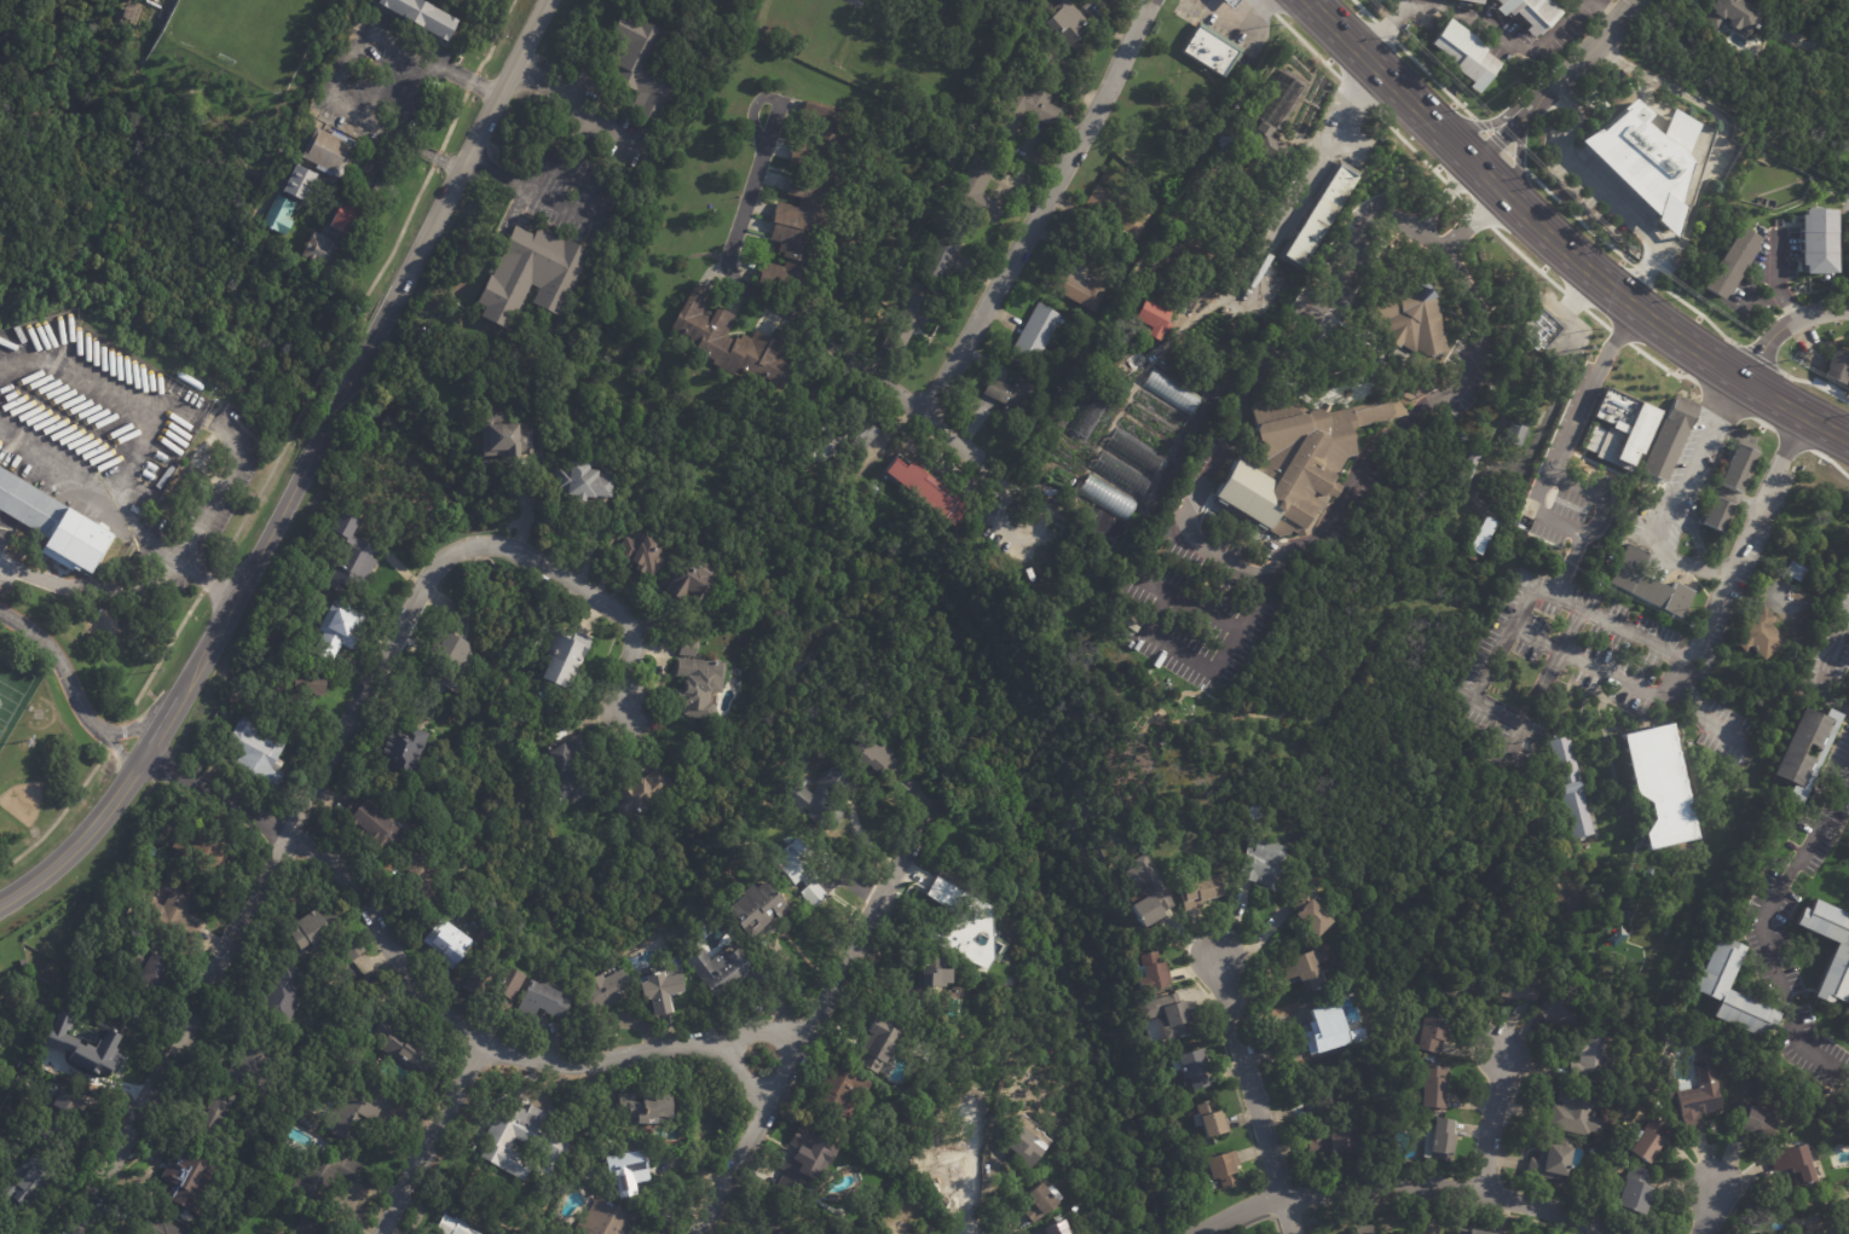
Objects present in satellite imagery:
building: (1467, 1)
building: (683, 2)
building: (1230, 2)
gas station: (1237, 2)
building: (1096, 8)
road: (1605, 11)
building: (1527, 12)
building: (423, 17)
road: (1232, 17)
building: (1728, 17)
road: (1483, 24)
building: (1074, 25)
road: (1377, 28)
park: (248, 34)
building: (1209, 52)
building: (1462, 56)
road: (347, 65)
building: (643, 65)
road: (380, 82)
road: (1558, 83)
building: (1272, 98)
road: (416, 102)
road: (571, 102)
road: (1374, 102)
building: (1028, 110)
building: (1215, 138)
building: (1265, 147)
building: (330, 155)
building: (1643, 163)
road: (460, 164)
road: (1319, 167)
road: (1470, 179)
building: (300, 184)
road: (524, 189)
building: (981, 192)
building: (808, 197)
road: (1439, 205)
road: (1045, 210)
building: (1121, 212)
building: (1313, 214)
building: (281, 216)
building: (345, 220)
road: (1397, 226)
road: (1457, 227)
road: (1360, 234)
road: (1685, 236)
building: (1816, 241)
road: (1558, 244)
building: (320, 250)
road: (729, 255)
building: (941, 259)
building: (1730, 263)
road: (1641, 272)
building: (533, 276)
road: (1779, 279)
building: (1082, 291)
building: (1405, 315)
building: (909, 317)
building: (1158, 318)
road: (1784, 328)
building: (1547, 330)
building: (1038, 336)
building: (735, 346)
road: (865, 364)
building: (1834, 371)
road: (341, 392)
building: (1173, 392)
building: (1009, 401)
road: (179, 407)
building: (1092, 412)
road: (64, 415)
road: (1237, 425)
building: (1623, 428)
road: (943, 429)
building: (1520, 433)
building: (505, 434)
building: (847, 436)
building: (1672, 438)
building: (1134, 454)
building: (1295, 459)
building: (1477, 459)
road: (1555, 459)
gas station: (156, 465)
building: (1739, 469)
building: (1121, 475)
building: (582, 480)
road: (1351, 486)
building: (928, 491)
road: (88, 492)
road: (1682, 493)
road: (1597, 494)
building: (1109, 498)
building: (29, 504)
building: (1722, 516)
building: (963, 534)
building: (1485, 535)
building: (75, 541)
building: (352, 554)
building: (643, 555)
parking lot: (22, 566)
road: (31, 572)
building: (1793, 572)
road: (206, 575)
building: (692, 583)
building: (1649, 584)
road: (1718, 589)
road: (595, 596)
road: (1192, 603)
road: (1518, 616)
building: (341, 626)
building: (1133, 626)
building: (1131, 635)
building: (1760, 636)
building: (568, 653)
road: (62, 657)
building: (452, 657)
road: (1825, 676)
building: (307, 683)
building: (699, 686)
park: (13, 694)
road: (177, 696)
road: (135, 726)
road: (1519, 726)
road: (103, 732)
building: (408, 746)
building: (258, 748)
building: (873, 754)
building: (1790, 755)
road: (120, 758)
building: (571, 765)
building: (1659, 786)
building: (1577, 788)
building: (645, 793)
building: (820, 801)
building: (1258, 812)
building: (382, 823)
building: (204, 846)
building: (1266, 861)
building: (803, 869)
building: (420, 870)
road: (266, 881)
building: (1202, 891)
building: (941, 892)
building: (1148, 894)
building: (704, 902)
building: (758, 906)
building: (1307, 910)
building: (947, 915)
building: (173, 919)
building: (317, 926)
road: (1769, 928)
building: (971, 934)
building: (487, 937)
building: (449, 942)
building: (353, 946)
building: (1836, 964)
building: (1302, 967)
building: (728, 969)
building: (1152, 971)
building: (150, 972)
building: (498, 981)
building: (932, 981)
building: (1460, 984)
building: (665, 987)
building: (1519, 989)
building: (1728, 990)
building: (608, 991)
building: (282, 992)
building: (545, 1001)
road: (428, 1004)
building: (1554, 1012)
road: (815, 1013)
building: (1169, 1018)
building: (1324, 1030)
building: (1423, 1038)
building: (882, 1043)
building: (80, 1045)
building: (404, 1047)
building: (1587, 1064)
building: (250, 1066)
building: (1196, 1067)
road: (740, 1072)
building: (848, 1090)
building: (1428, 1090)
road: (1252, 1094)
building: (1695, 1097)
building: (647, 1105)
building: (357, 1111)
building: (1574, 1113)
building: (215, 1114)
building: (1213, 1118)
building: (64, 1119)
road: (1491, 1119)
building: (311, 1120)
building: (1757, 1122)
road: (437, 1140)
building: (1439, 1140)
building: (1646, 1141)
building: (547, 1142)
building: (1025, 1143)
building: (1328, 1148)
building: (805, 1160)
building: (1550, 1161)
building: (1790, 1165)
building: (1230, 1169)
building: (631, 1170)
building: (324, 1176)
building: (189, 1178)
building: (952, 1178)
building: (27, 1182)
road: (1408, 1184)
building: (1631, 1194)
building: (1044, 1201)
road: (1710, 1213)
building: (608, 1219)
building: (313, 1226)
building: (456, 1226)
building: (1064, 1226)
building: (161, 1227)
building: (1368, 1229)
building: (1427, 1229)
building: (1847, 1229)
road: (1203, 1230)
building: (1470, 1230)
building: (750, 1232)
building: (758, 1232)
building: (785, 1232)
building: (276, 1233)
building: (279, 1233)
building: (779, 1233)
building: (1400, 1233)
building: (1830, 1233)

